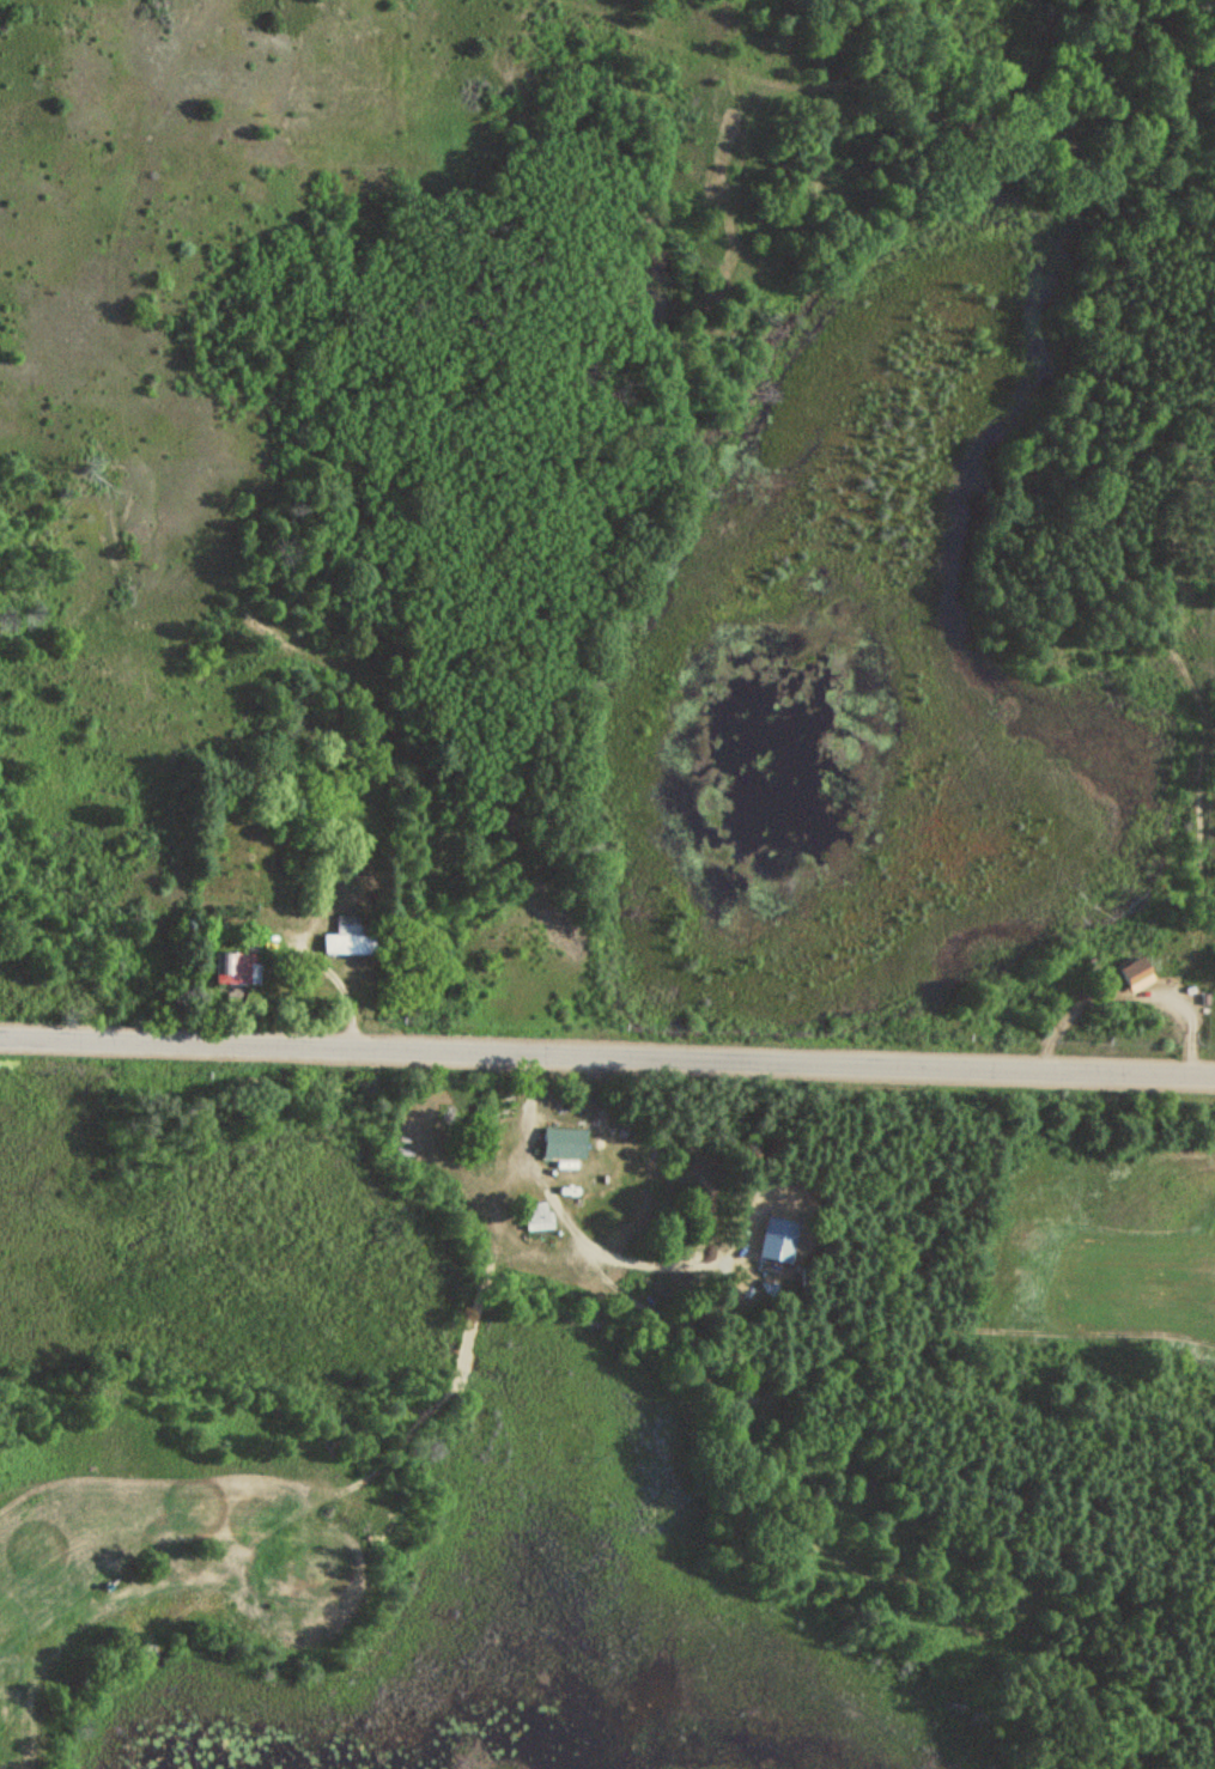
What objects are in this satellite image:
building: (348, 938)
building: (235, 968)
building: (1131, 975)
road: (607, 1060)
building: (560, 1142)
building: (535, 1215)

